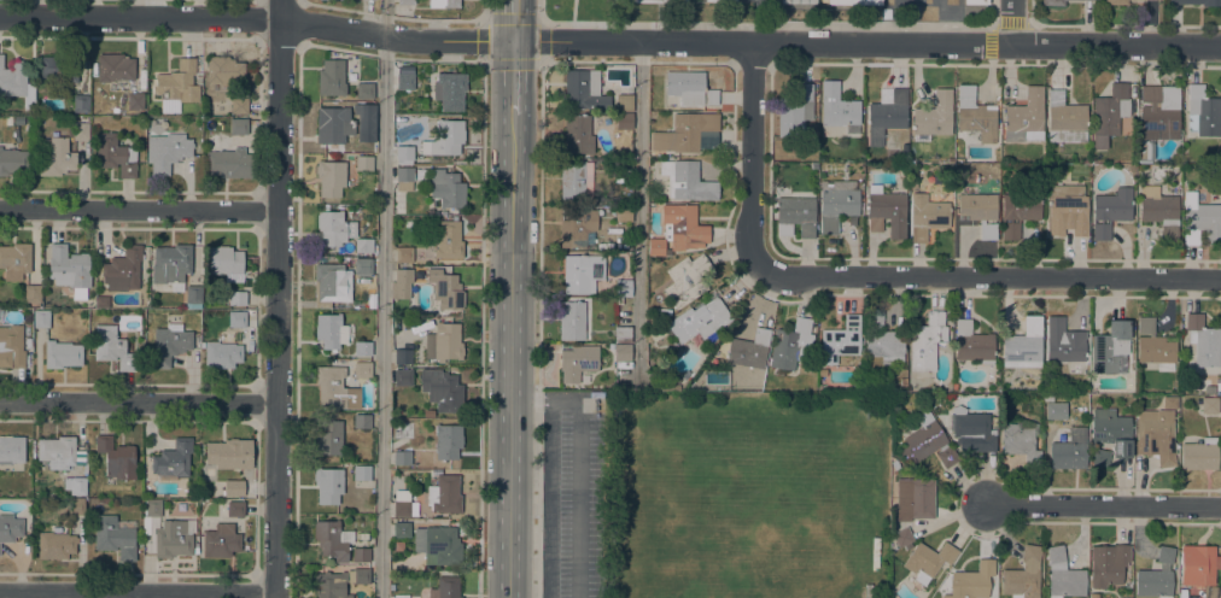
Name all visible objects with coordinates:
building: (617, 0)
building: (668, 0)
building: (720, 0)
building: (405, 1)
building: (638, 1)
building: (798, 1)
building: (976, 1)
building: (853, 2)
building: (1052, 2)
building: (1115, 2)
building: (1197, 2)
building: (444, 4)
road: (483, 10)
road: (513, 20)
road: (1012, 22)
road: (767, 24)
road: (609, 42)
building: (59, 68)
building: (115, 68)
building: (223, 70)
building: (331, 78)
road: (513, 78)
building: (198, 80)
building: (404, 81)
building: (16, 83)
building: (177, 83)
building: (690, 88)
building: (364, 90)
building: (583, 90)
building: (449, 92)
building: (135, 101)
building: (80, 102)
building: (624, 102)
building: (239, 105)
building: (836, 105)
building: (795, 111)
building: (1202, 112)
building: (1109, 113)
building: (934, 115)
building: (886, 116)
building: (975, 116)
building: (1024, 117)
building: (1157, 117)
building: (83, 118)
building: (1064, 119)
building: (624, 121)
building: (366, 122)
building: (238, 125)
building: (334, 125)
building: (80, 131)
building: (688, 133)
building: (578, 134)
building: (444, 139)
building: (166, 151)
building: (113, 154)
building: (404, 154)
building: (55, 158)
road: (753, 159)
building: (12, 162)
building: (230, 163)
building: (363, 163)
building: (624, 166)
building: (421, 175)
building: (329, 177)
building: (404, 178)
building: (619, 178)
building: (576, 180)
building: (687, 181)
building: (649, 183)
building: (446, 188)
building: (837, 203)
building: (1157, 205)
road: (638, 206)
road: (139, 210)
building: (888, 210)
building: (978, 210)
building: (1068, 210)
building: (1110, 210)
building: (1017, 212)
building: (623, 213)
building: (798, 213)
building: (927, 216)
building: (1200, 219)
building: (334, 227)
building: (577, 227)
building: (684, 227)
building: (1169, 233)
building: (449, 240)
building: (363, 245)
building: (655, 246)
building: (403, 254)
building: (224, 259)
building: (14, 260)
building: (171, 265)
building: (362, 266)
building: (69, 269)
building: (123, 269)
building: (582, 272)
road: (992, 276)
building: (685, 280)
building: (331, 282)
building: (401, 283)
building: (623, 288)
building: (445, 289)
building: (31, 293)
building: (193, 294)
building: (236, 298)
road: (381, 298)
road: (277, 299)
building: (101, 300)
building: (89, 303)
building: (41, 318)
building: (236, 318)
building: (700, 318)
building: (571, 321)
road: (479, 330)
building: (331, 332)
building: (623, 334)
building: (649, 338)
building: (882, 339)
building: (840, 340)
building: (446, 341)
building: (925, 341)
building: (1062, 341)
building: (1202, 341)
building: (249, 344)
building: (972, 344)
building: (169, 345)
building: (790, 345)
building: (1023, 345)
building: (11, 346)
building: (1153, 346)
building: (112, 347)
building: (362, 347)
building: (1110, 348)
building: (748, 350)
building: (623, 352)
building: (62, 354)
building: (221, 354)
building: (402, 356)
road: (513, 356)
building: (857, 360)
building: (577, 362)
building: (1181, 365)
building: (362, 369)
building: (403, 377)
building: (670, 387)
building: (335, 388)
building: (442, 389)
road: (139, 401)
building: (1169, 403)
building: (1209, 404)
building: (1054, 410)
building: (361, 421)
building: (971, 430)
building: (1111, 432)
building: (1155, 435)
building: (329, 438)
building: (1021, 440)
building: (448, 441)
building: (925, 441)
building: (11, 450)
building: (1069, 450)
building: (59, 452)
building: (229, 453)
building: (1199, 455)
building: (1100, 457)
building: (116, 458)
building: (173, 458)
building: (402, 458)
building: (894, 464)
building: (361, 471)
road: (543, 482)
building: (75, 485)
building: (328, 485)
building: (235, 487)
building: (445, 493)
building: (913, 499)
building: (403, 504)
road: (1105, 506)
building: (76, 508)
building: (152, 508)
building: (235, 509)
building: (10, 528)
building: (401, 529)
building: (113, 537)
building: (901, 537)
building: (171, 539)
building: (220, 540)
building: (329, 540)
building: (54, 545)
building: (437, 545)
building: (907, 546)
building: (361, 555)
building: (927, 561)
building: (1106, 564)
building: (1198, 565)
building: (1023, 575)
building: (1063, 575)
building: (1156, 576)
building: (337, 581)
building: (971, 581)
building: (445, 587)
road: (138, 591)
building: (401, 596)
building: (1094, 596)

